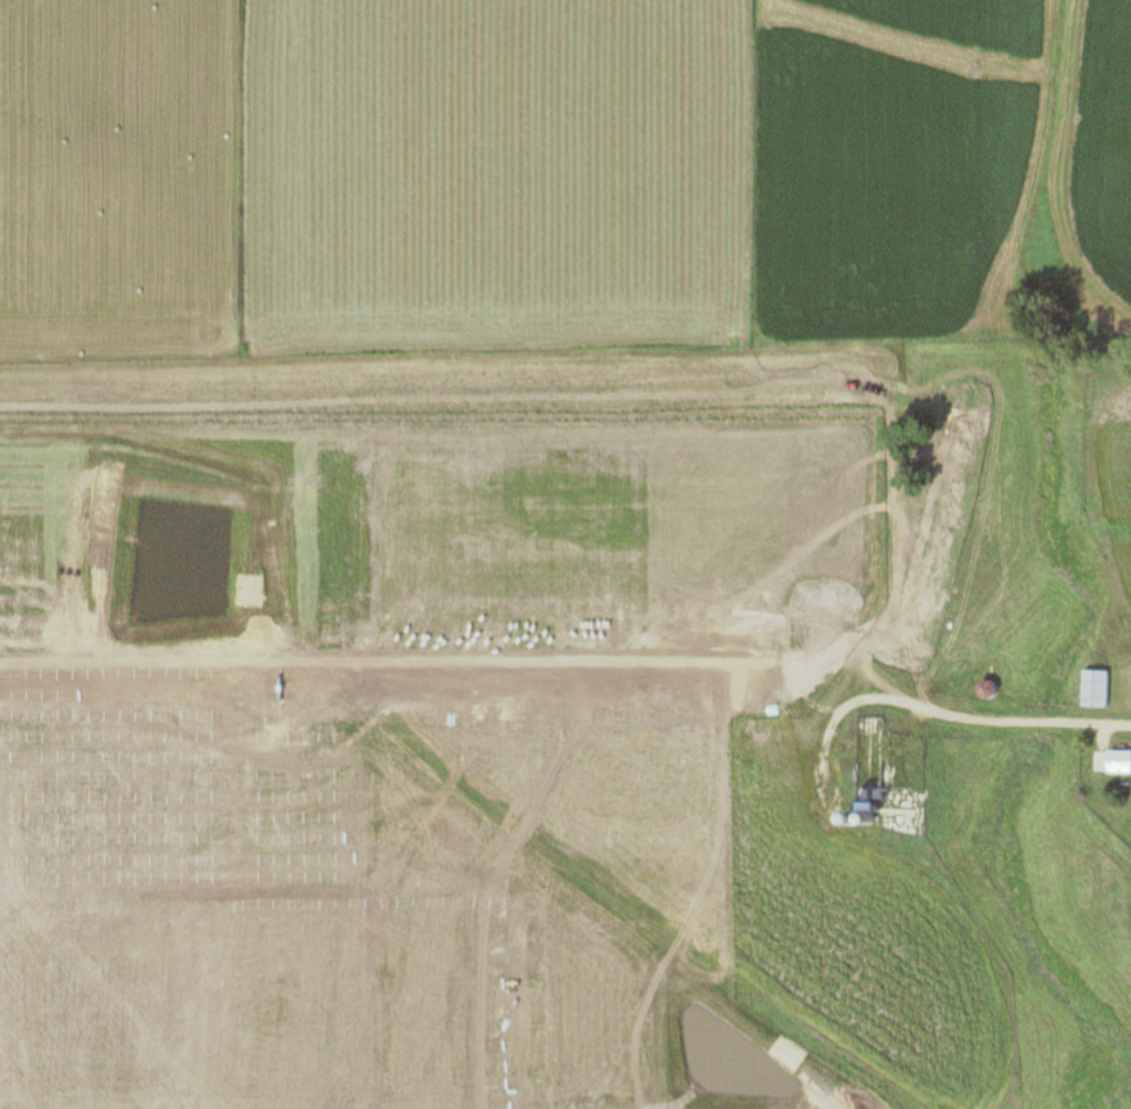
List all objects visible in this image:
building: (1096, 690)
road: (1104, 727)
building: (1113, 763)
building: (865, 785)

